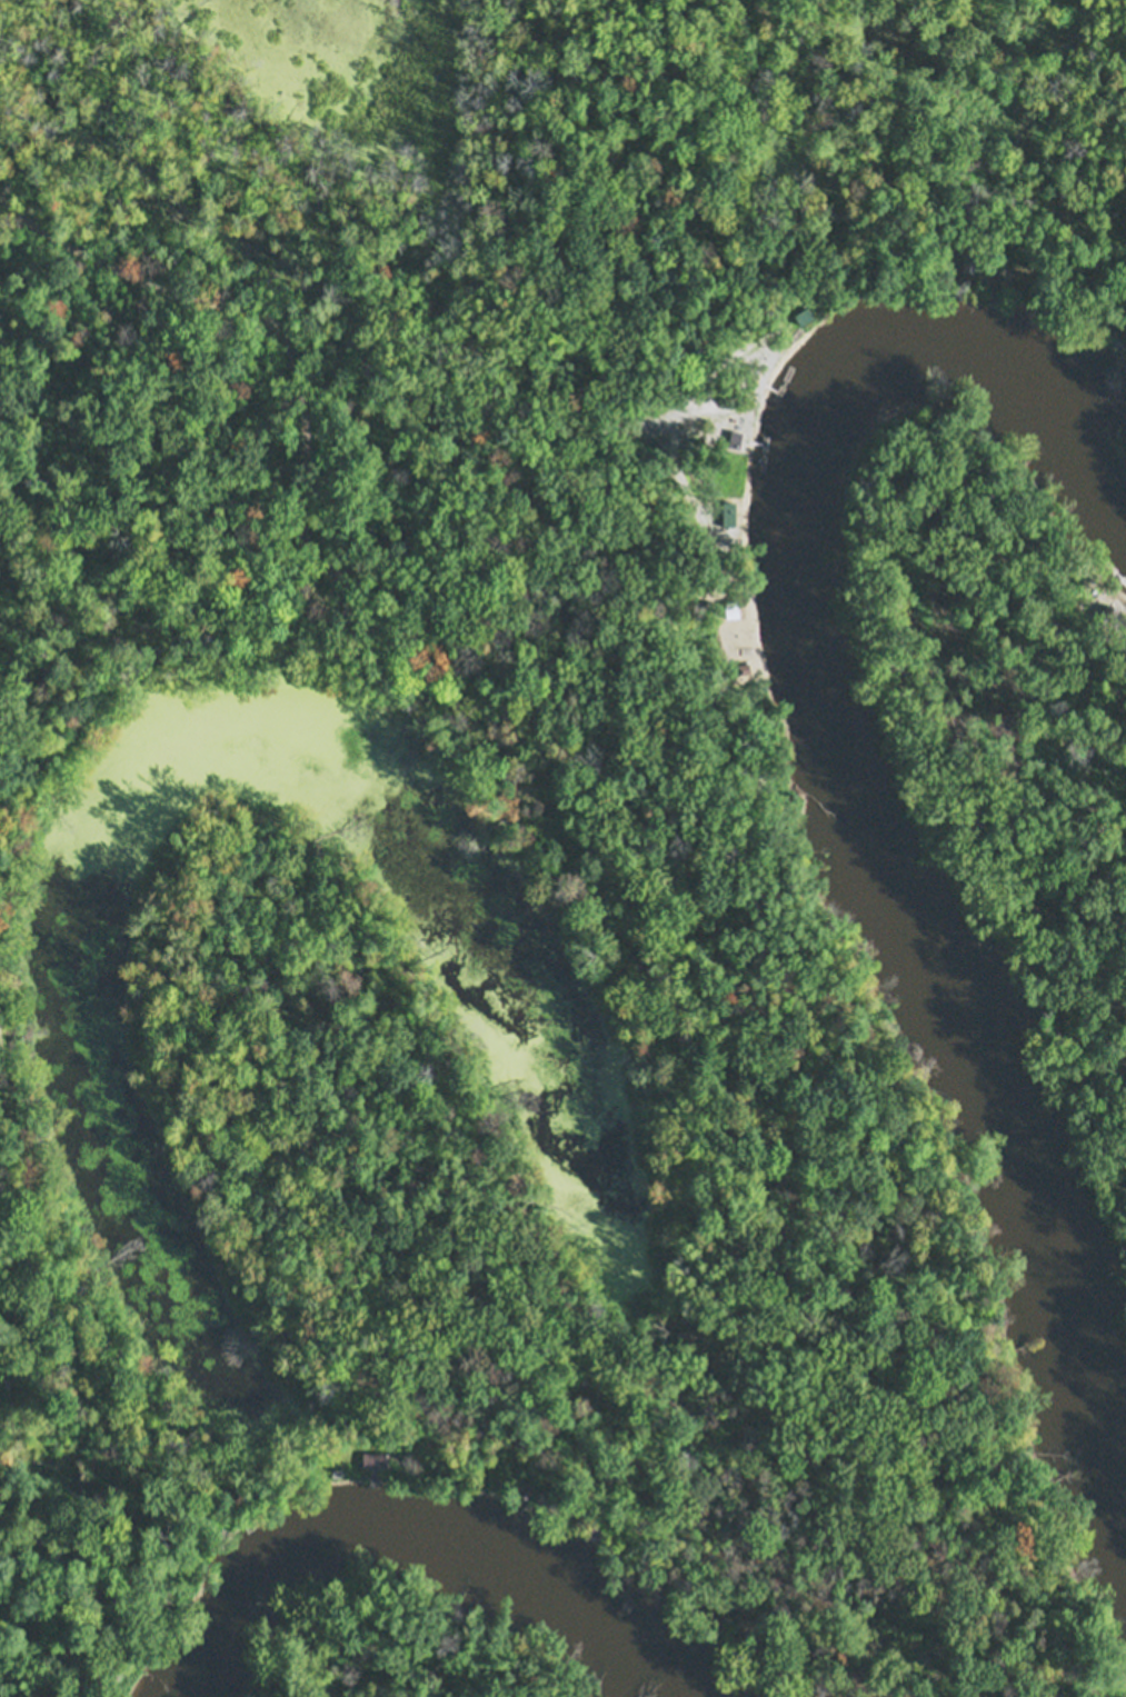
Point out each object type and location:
building: (969, 258)
building: (804, 311)
building: (751, 369)
building: (740, 436)
building: (728, 510)
building: (731, 606)
building: (1106, 609)
building: (745, 665)
river: (853, 795)
building: (375, 1457)
building: (526, 1488)
building: (232, 1495)
building: (568, 1517)
building: (596, 1533)
river: (432, 1541)

